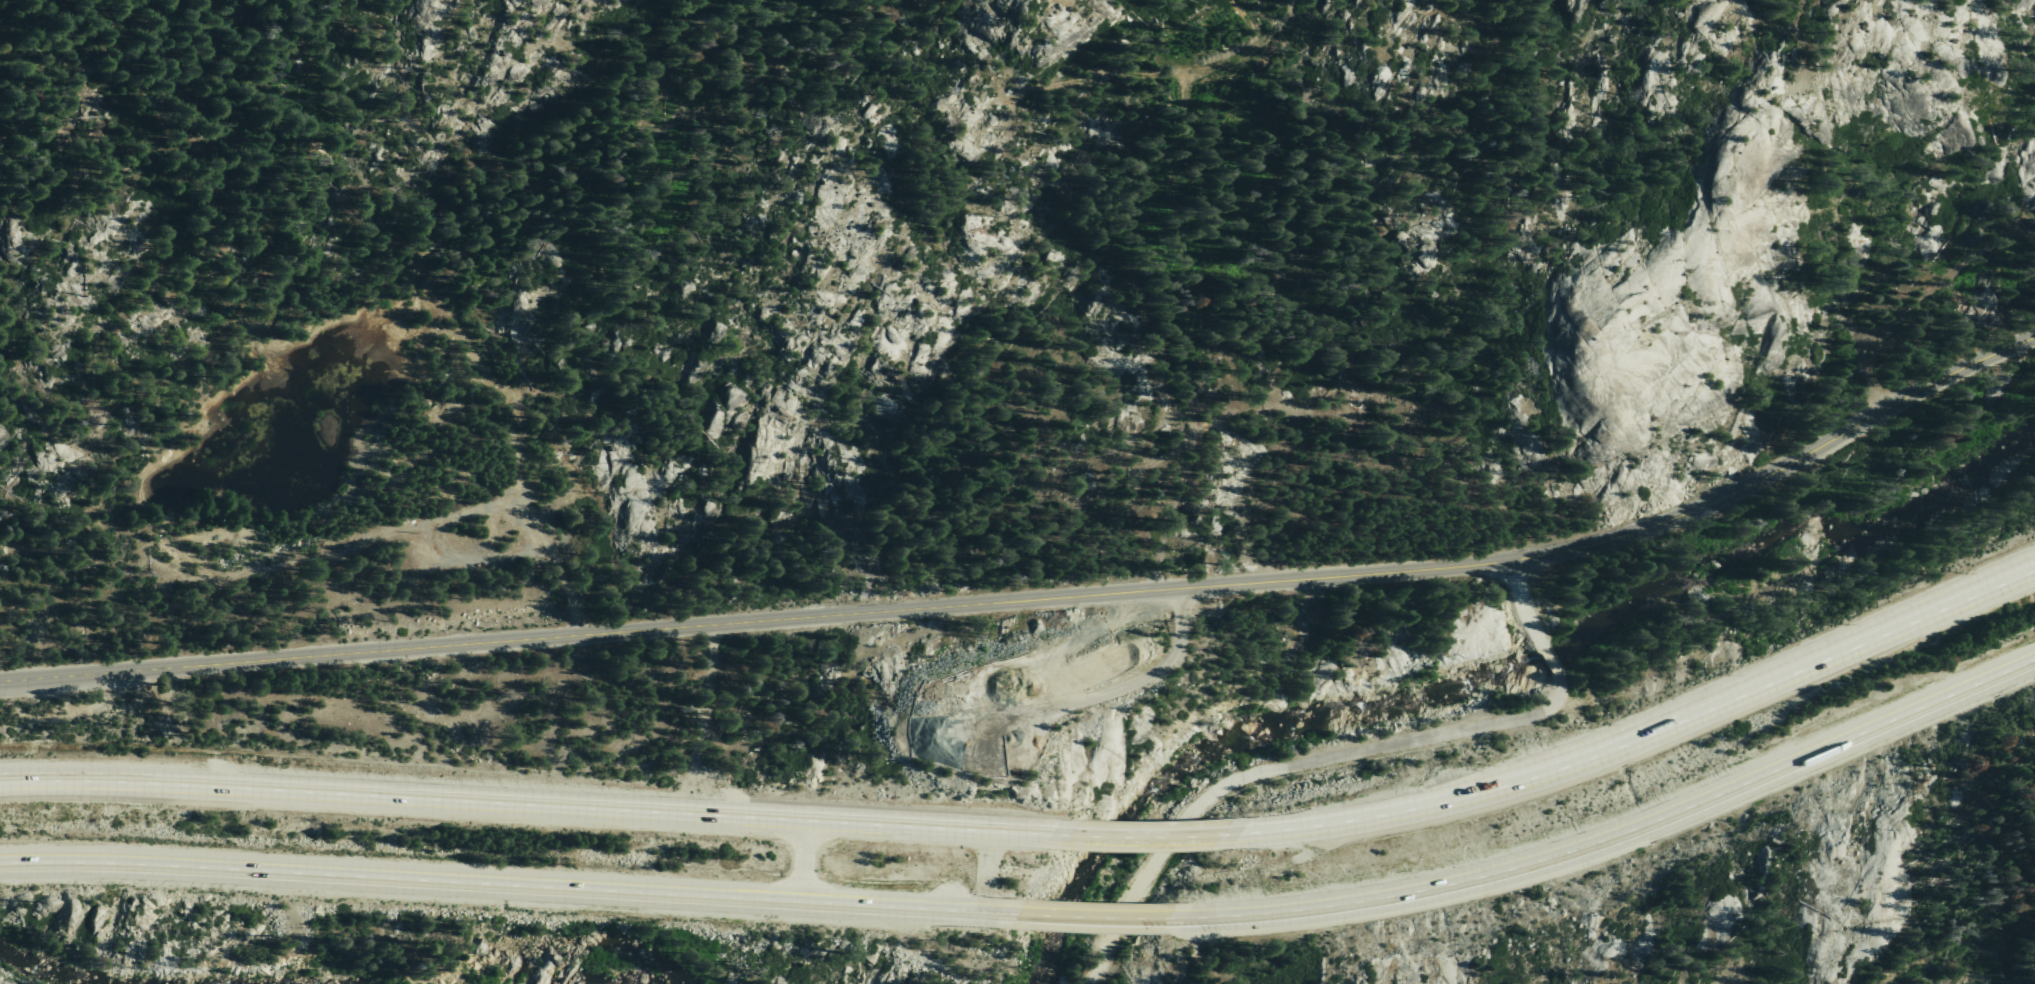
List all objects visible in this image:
road: (1916, 296)
river: (1872, 537)
road: (1041, 598)
river: (1668, 603)
road: (1522, 606)
river: (1597, 621)
road: (1547, 662)
river: (1465, 682)
road: (1099, 693)
road: (1650, 724)
road: (1287, 767)
river: (1162, 780)
road: (516, 813)
road: (1610, 832)
road: (1142, 840)
road: (503, 886)
road: (1089, 916)
river: (23, 966)
river: (615, 968)
river: (63, 980)

